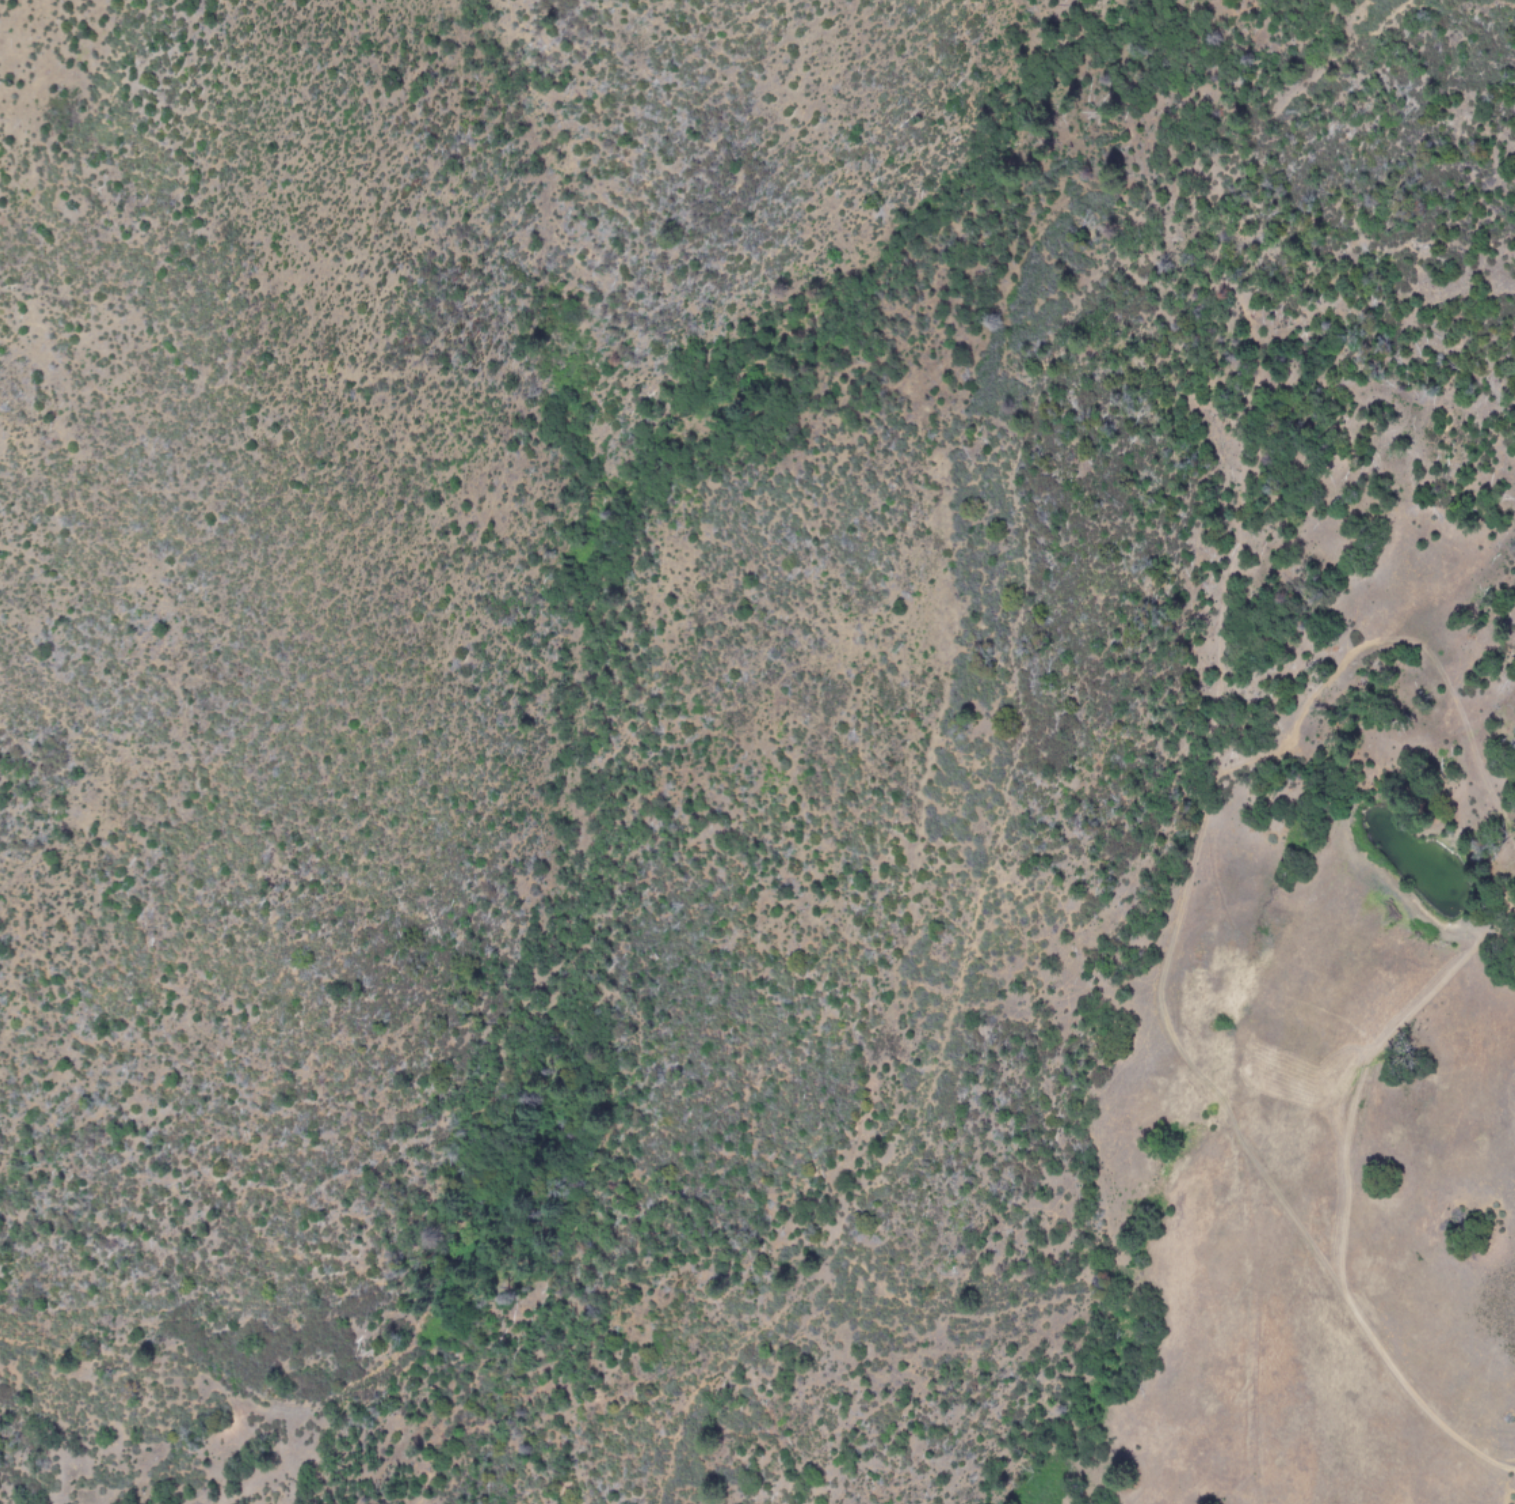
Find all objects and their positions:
road: (1264, 1461)

